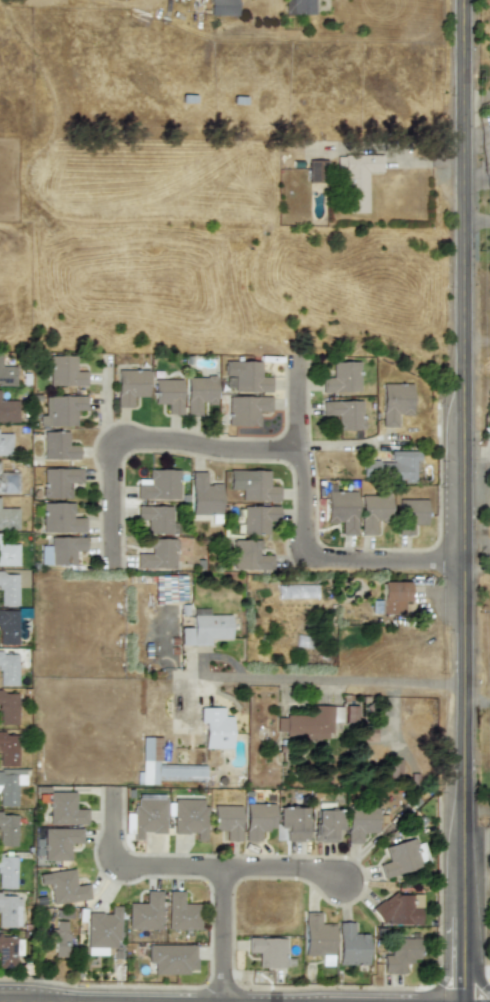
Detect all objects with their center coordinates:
building: (222, 7)
building: (298, 7)
building: (352, 151)
building: (317, 170)
building: (357, 180)
road: (477, 222)
road: (478, 341)
building: (64, 371)
building: (7, 375)
building: (246, 376)
building: (342, 378)
building: (129, 386)
building: (198, 393)
building: (167, 394)
building: (394, 402)
building: (245, 409)
building: (61, 410)
building: (8, 411)
building: (344, 413)
road: (145, 439)
building: (5, 444)
building: (58, 446)
building: (392, 466)
building: (59, 481)
building: (8, 482)
building: (160, 485)
building: (252, 485)
building: (204, 496)
road: (465, 500)
building: (340, 510)
building: (372, 512)
building: (409, 515)
building: (8, 518)
building: (60, 518)
building: (257, 518)
building: (156, 519)
road: (306, 536)
building: (61, 550)
building: (8, 554)
building: (158, 555)
building: (250, 556)
road: (476, 563)
building: (170, 588)
building: (8, 589)
building: (297, 591)
building: (393, 596)
building: (8, 627)
building: (205, 628)
building: (8, 668)
road: (333, 681)
road: (476, 701)
building: (8, 707)
building: (310, 722)
building: (216, 728)
building: (8, 749)
building: (163, 766)
building: (10, 785)
building: (63, 809)
building: (148, 814)
building: (189, 817)
building: (257, 820)
building: (227, 821)
building: (293, 822)
building: (360, 823)
building: (326, 825)
building: (7, 830)
road: (477, 837)
building: (58, 842)
building: (403, 857)
road: (134, 868)
road: (284, 870)
building: (7, 871)
building: (65, 887)
building: (398, 909)
building: (9, 911)
building: (145, 912)
building: (181, 912)
building: (102, 931)
road: (223, 936)
building: (317, 937)
building: (60, 939)
building: (351, 945)
building: (9, 950)
building: (268, 951)
building: (400, 952)
building: (171, 958)

